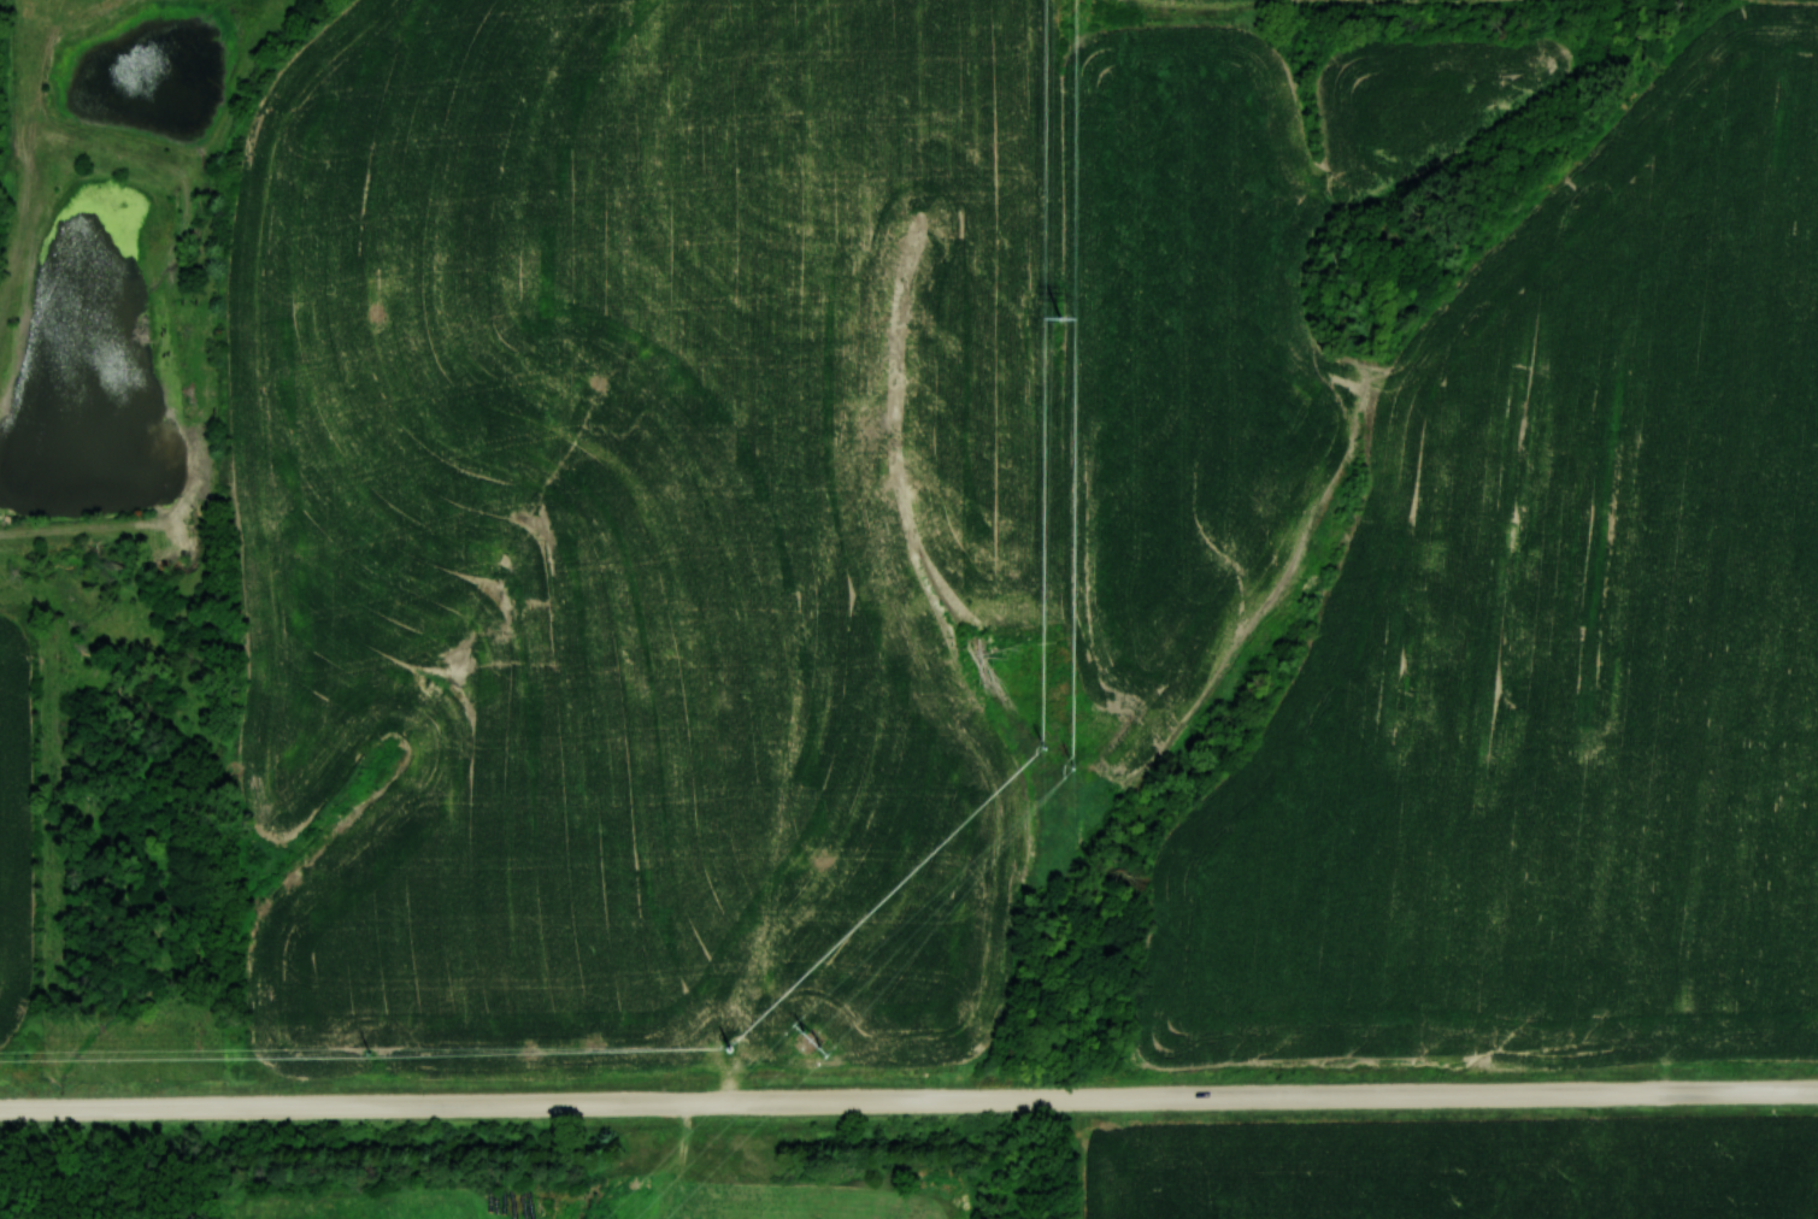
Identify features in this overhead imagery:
crop: (1487, 1)
crop: (1194, 2)
crop: (1783, 5)
power tower: (1061, 319)
power tower: (1046, 748)
power tower: (1070, 759)
power tower: (813, 1046)
power tower: (730, 1050)
power tower: (371, 1054)
road: (908, 1099)
crop: (1453, 1167)

